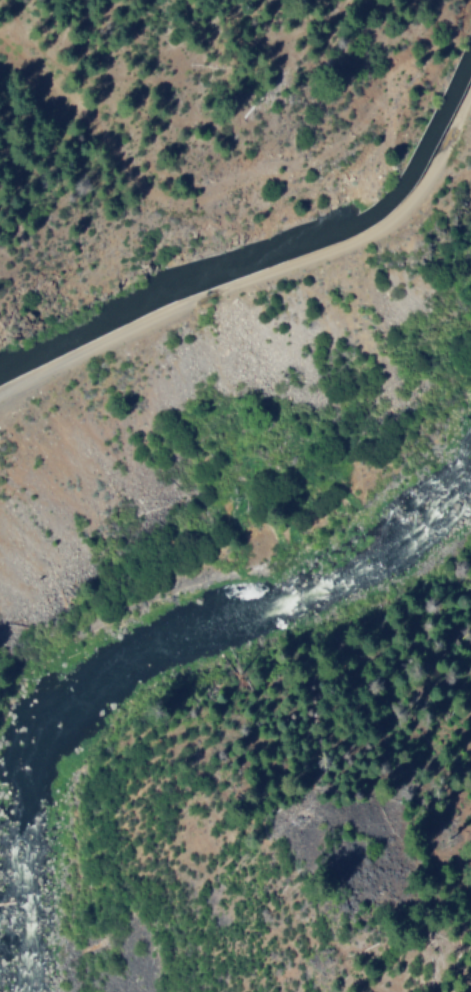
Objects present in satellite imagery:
road: (265, 272)
river: (139, 654)

